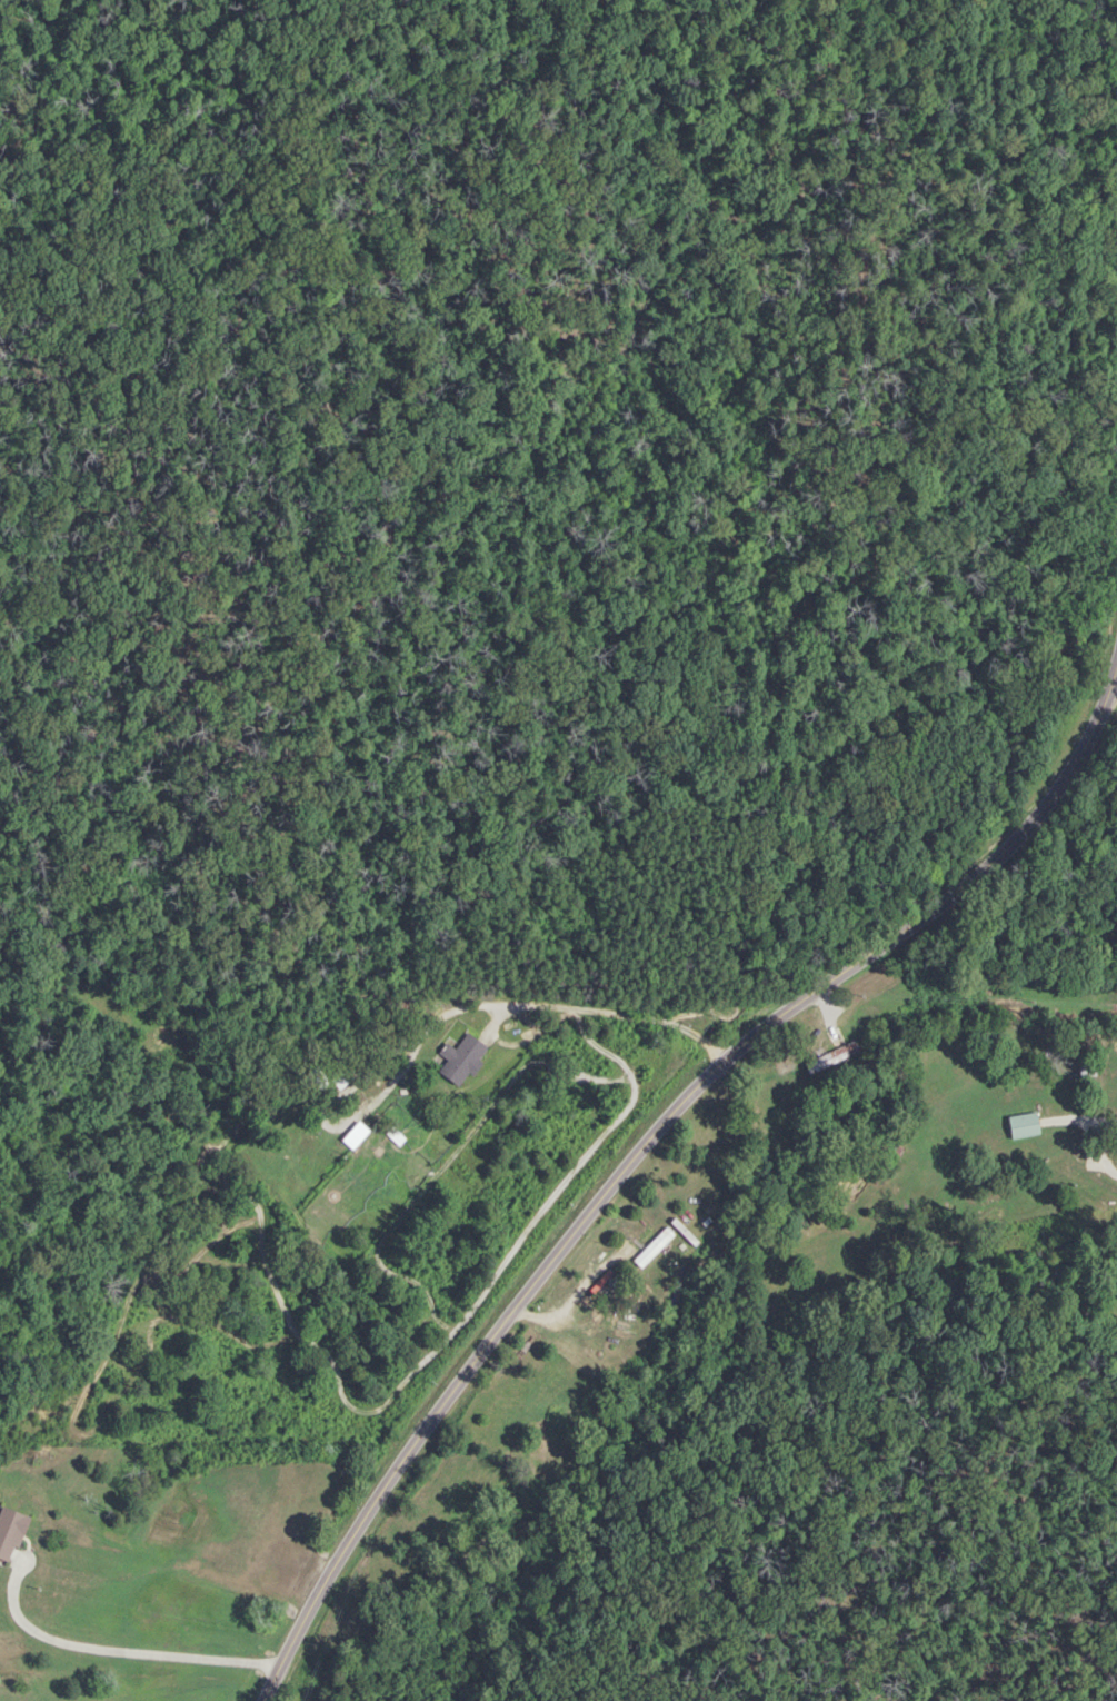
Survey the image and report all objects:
road: (433, 1027)
building: (1041, 1047)
building: (460, 1060)
building: (1085, 1068)
building: (339, 1077)
building: (312, 1082)
road: (646, 1147)
building: (888, 1154)
road: (586, 1333)
building: (9, 1533)
road: (114, 1651)

